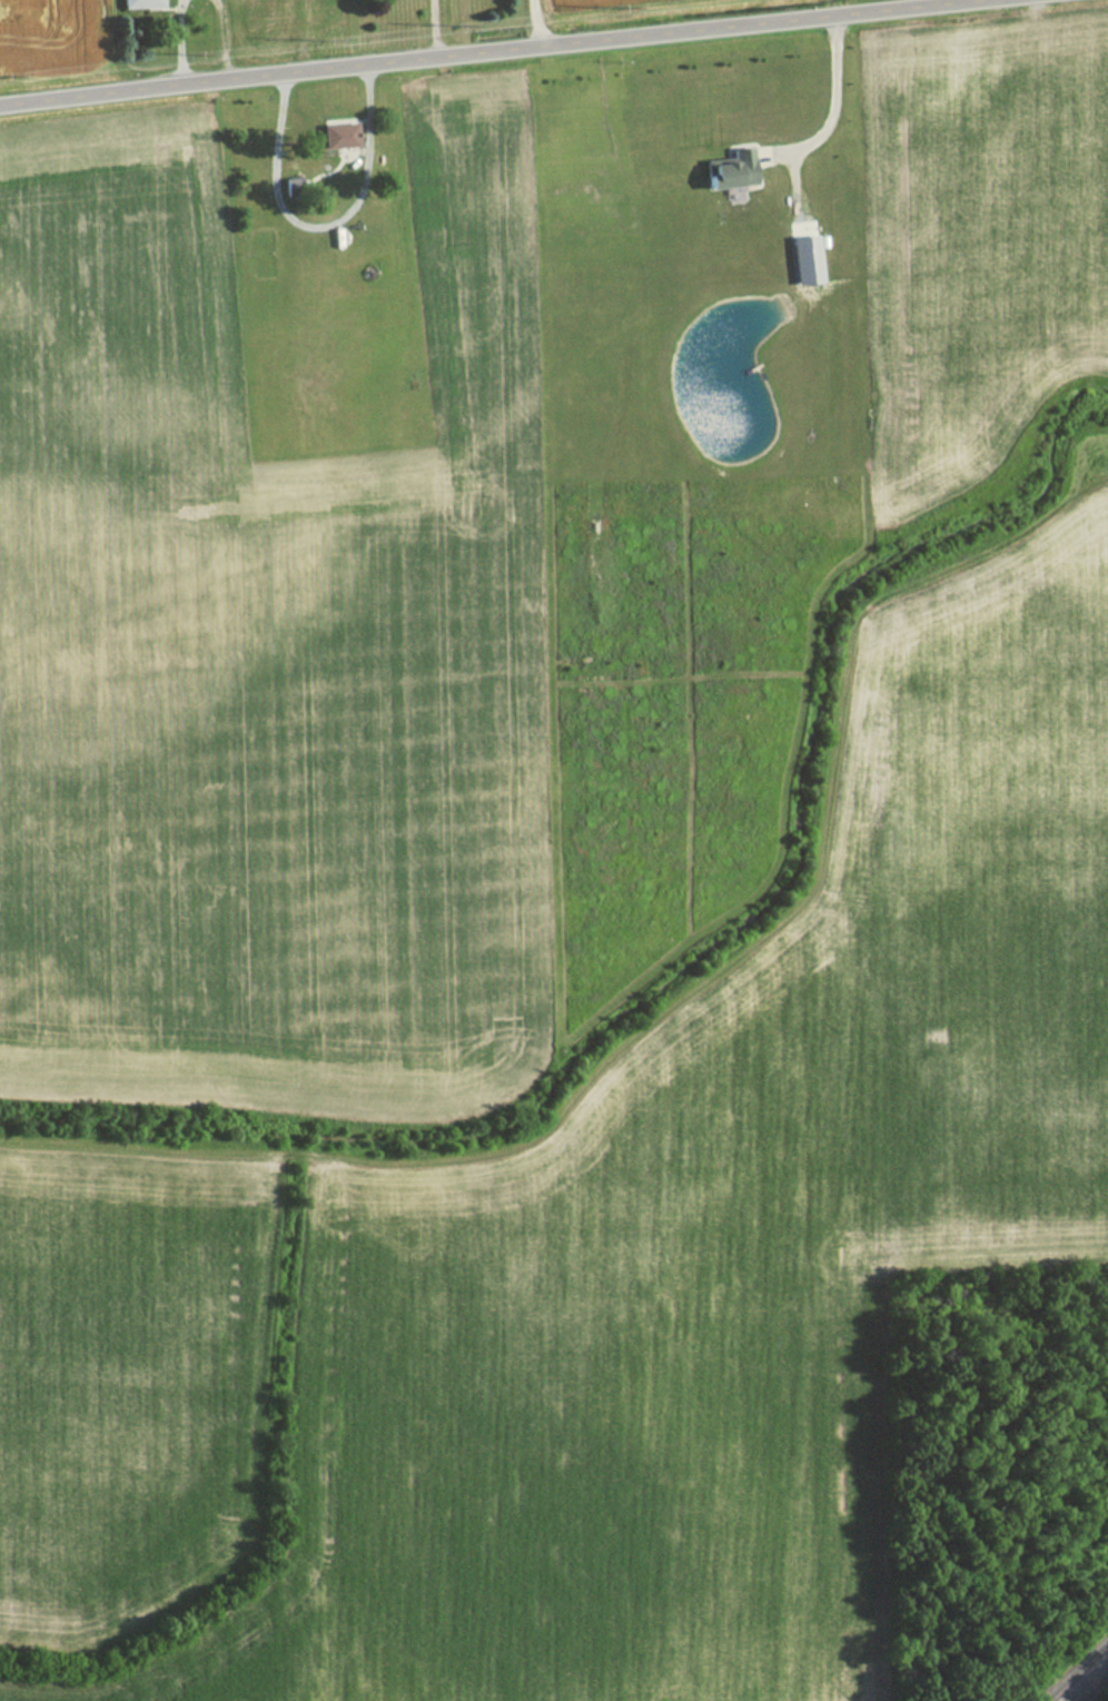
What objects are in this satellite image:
building: (138, 4)
crop: (233, 6)
crop: (38, 23)
road: (177, 42)
road: (103, 47)
road: (489, 50)
road: (829, 98)
road: (315, 220)
crop: (979, 235)
crop: (269, 654)
crop: (722, 1248)
crop: (120, 1366)
railway: (1077, 1670)
railway: (1089, 1682)

